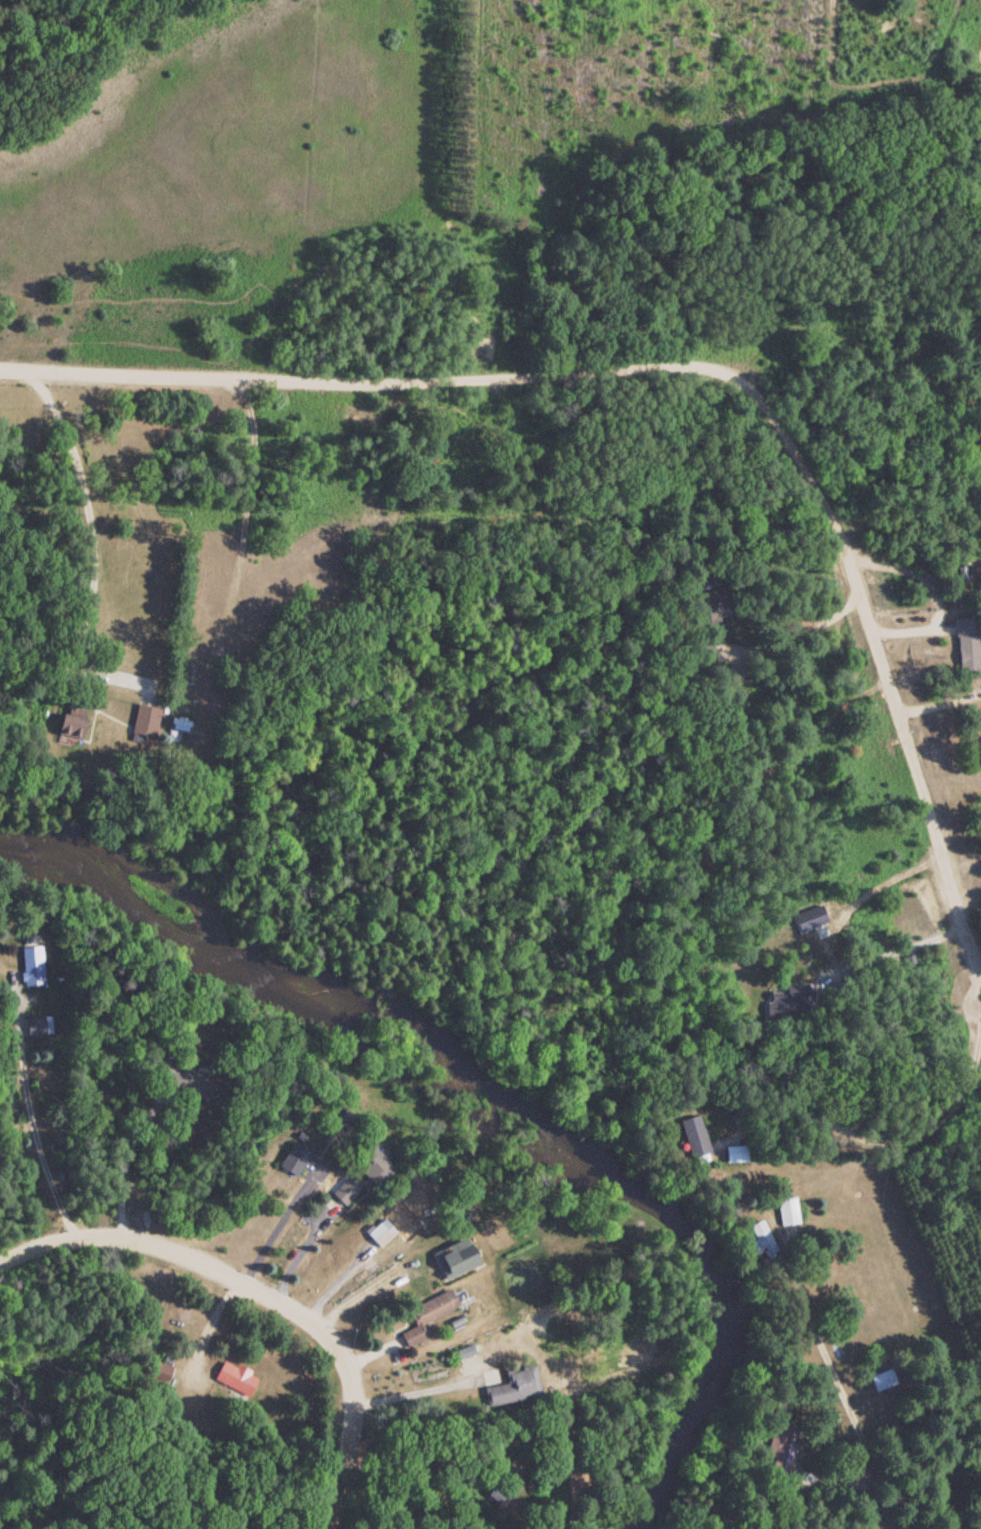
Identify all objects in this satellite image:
road: (259, 445)
road: (794, 445)
building: (964, 643)
building: (144, 721)
building: (30, 965)
river: (488, 1085)
building: (374, 1164)
building: (345, 1190)
building: (418, 1203)
building: (785, 1211)
building: (380, 1232)
building: (760, 1238)
building: (455, 1258)
road: (271, 1276)
building: (426, 1317)
building: (234, 1379)
building: (880, 1380)
building: (513, 1386)
building: (782, 1443)
road: (896, 1480)

